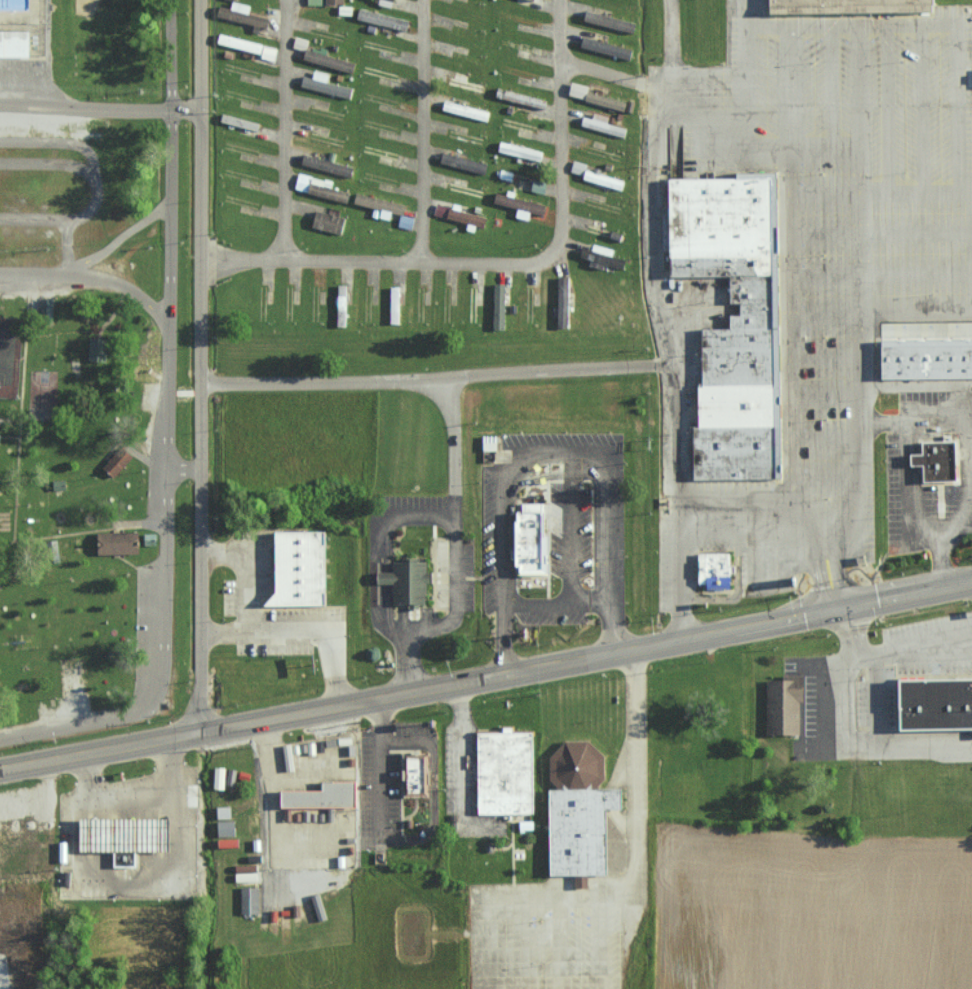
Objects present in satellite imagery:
building: (335, 1)
building: (315, 2)
building: (848, 6)
park: (85, 7)
road: (747, 13)
building: (242, 14)
building: (383, 18)
building: (609, 21)
road: (888, 26)
road: (669, 29)
building: (242, 42)
building: (13, 44)
building: (607, 47)
building: (312, 52)
building: (270, 53)
road: (665, 72)
road: (608, 75)
parking lot: (24, 77)
building: (328, 87)
road: (787, 87)
road: (831, 87)
road: (859, 87)
building: (580, 90)
road: (922, 107)
road: (100, 108)
road: (886, 108)
building: (466, 109)
parking lot: (28, 121)
building: (605, 126)
road: (422, 130)
road: (767, 131)
road: (58, 144)
building: (523, 150)
road: (168, 159)
building: (325, 165)
building: (579, 167)
road: (78, 169)
building: (605, 179)
building: (320, 188)
road: (908, 188)
road: (823, 190)
road: (858, 195)
building: (504, 199)
building: (441, 210)
building: (468, 217)
road: (34, 220)
building: (330, 221)
road: (915, 231)
road: (824, 232)
road: (119, 239)
road: (67, 248)
parking lot: (830, 253)
building: (603, 256)
road: (422, 260)
road: (242, 261)
road: (915, 271)
road: (824, 272)
road: (89, 279)
parking lot: (39, 291)
building: (563, 302)
building: (394, 304)
building: (343, 305)
building: (499, 306)
building: (45, 311)
road: (114, 313)
road: (825, 314)
building: (731, 322)
road: (791, 333)
building: (96, 350)
road: (825, 353)
park: (7, 357)
building: (925, 359)
road: (670, 360)
road: (201, 366)
road: (859, 369)
road: (560, 373)
road: (826, 394)
park: (43, 395)
road: (21, 406)
road: (970, 418)
park: (88, 422)
road: (451, 433)
road: (825, 435)
parking lot: (562, 441)
road: (129, 449)
parking lot: (152, 452)
road: (971, 452)
building: (935, 462)
building: (116, 463)
road: (183, 468)
road: (826, 474)
building: (57, 486)
road: (504, 489)
road: (906, 495)
parking lot: (412, 502)
road: (796, 518)
parking lot: (570, 531)
road: (573, 532)
road: (80, 533)
parking lot: (490, 539)
building: (149, 540)
building: (531, 540)
building: (115, 544)
road: (609, 555)
road: (139, 569)
building: (298, 569)
parking lot: (469, 571)
building: (714, 571)
building: (408, 583)
road: (163, 590)
road: (453, 597)
traffic signals: (840, 601)
road: (557, 606)
parking lot: (270, 612)
parking lot: (549, 618)
parking lot: (147, 628)
road: (254, 637)
road: (505, 640)
road: (327, 642)
road: (913, 651)
parking lot: (915, 663)
road: (410, 667)
road: (846, 673)
road: (487, 677)
road: (335, 684)
parking lot: (805, 694)
building: (933, 705)
parking lot: (64, 706)
building: (782, 706)
parking lot: (412, 729)
parking lot: (460, 771)
building: (504, 773)
building: (415, 775)
building: (220, 780)
parking lot: (366, 789)
parking lot: (394, 792)
road: (136, 793)
building: (322, 797)
building: (576, 813)
road: (638, 825)
building: (120, 837)
gas station: (120, 837)
road: (123, 885)
building: (251, 899)
park: (414, 933)
road: (488, 934)
parking lot: (542, 941)
road: (598, 945)

